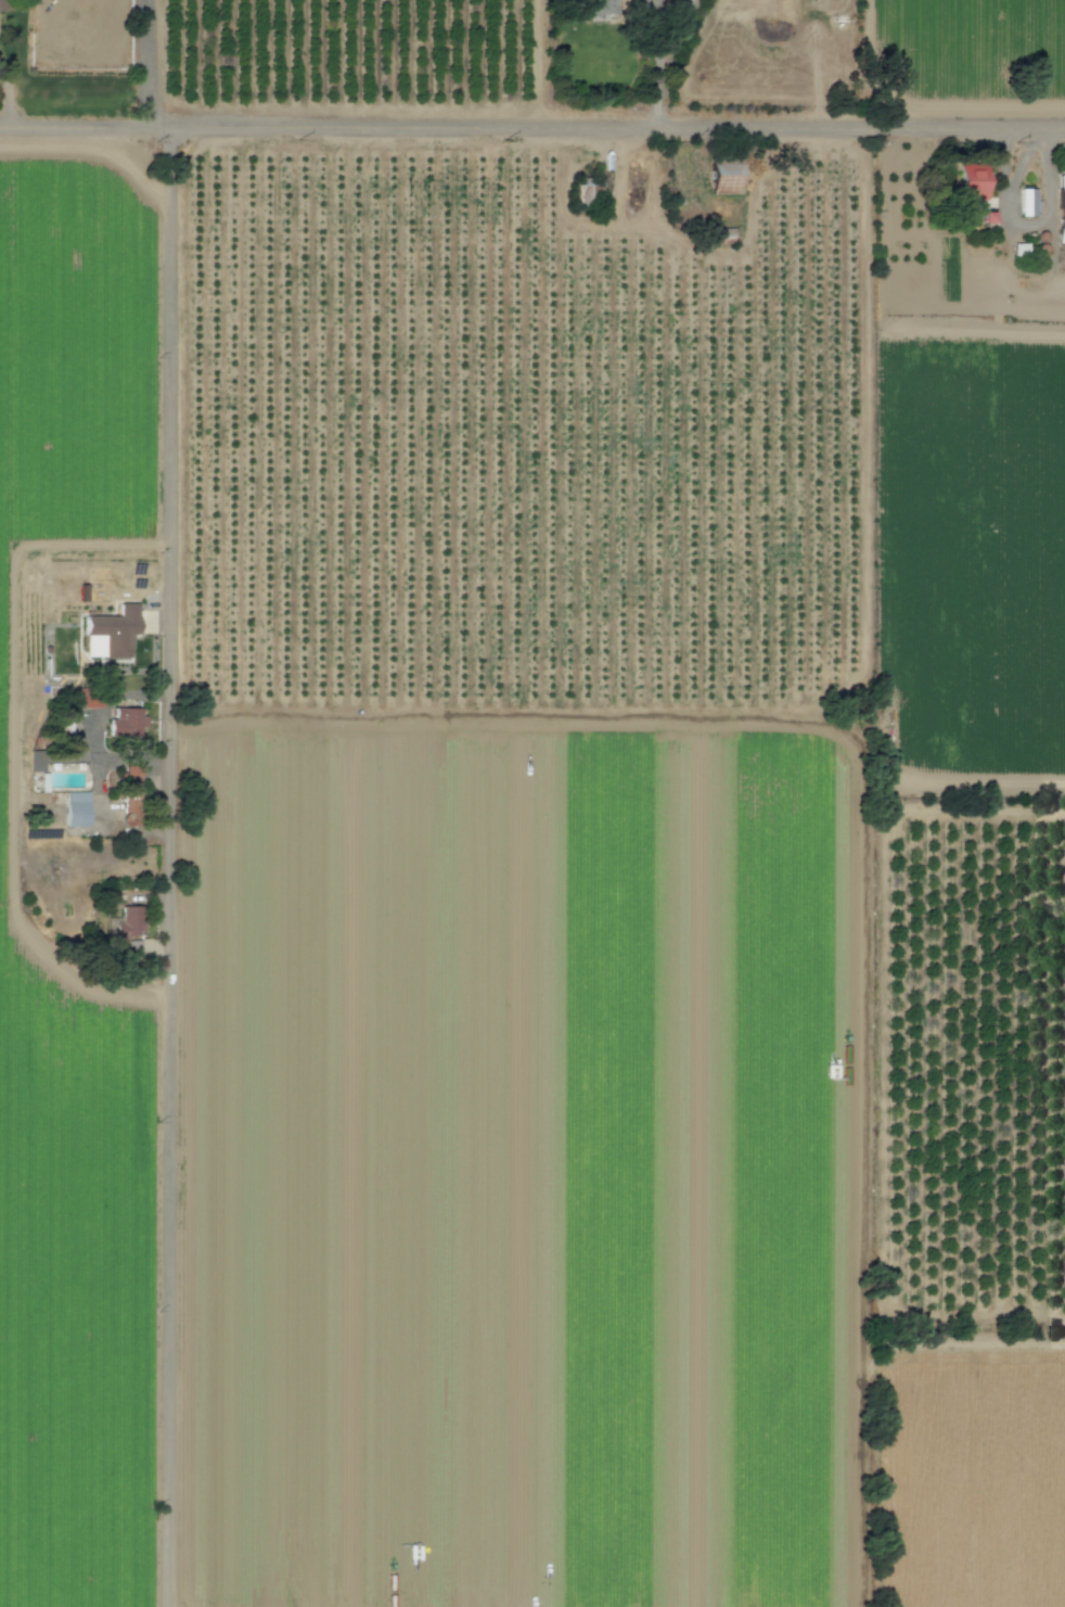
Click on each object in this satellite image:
building: (2, 5)
building: (600, 7)
road: (658, 21)
road: (682, 24)
road: (659, 85)
road: (5, 94)
road: (532, 127)
road: (996, 167)
building: (728, 178)
building: (975, 182)
building: (588, 189)
building: (1029, 203)
building: (1062, 209)
building: (989, 218)
road: (1024, 234)
building: (115, 632)
building: (128, 724)
road: (94, 729)
building: (44, 782)
building: (130, 796)
road: (170, 801)
building: (77, 809)

